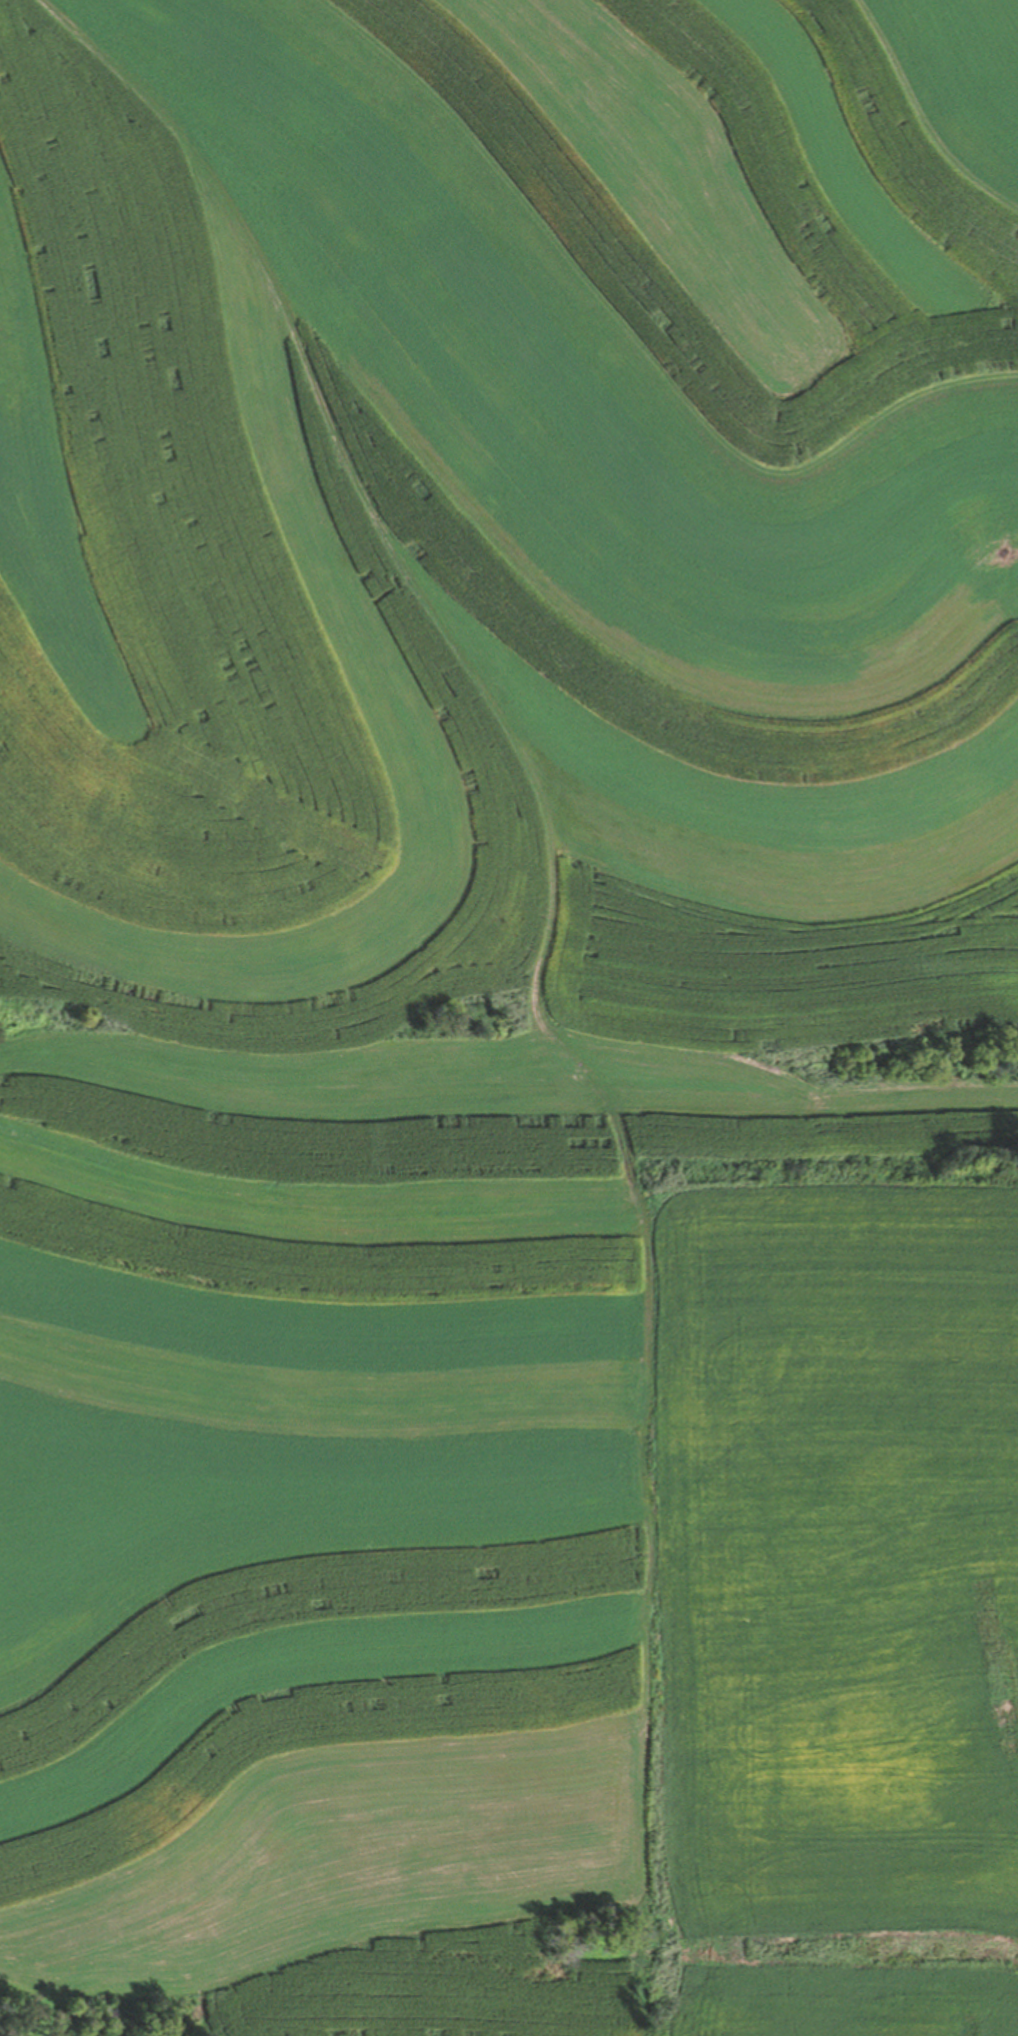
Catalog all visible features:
road: (918, 126)
road: (543, 953)

